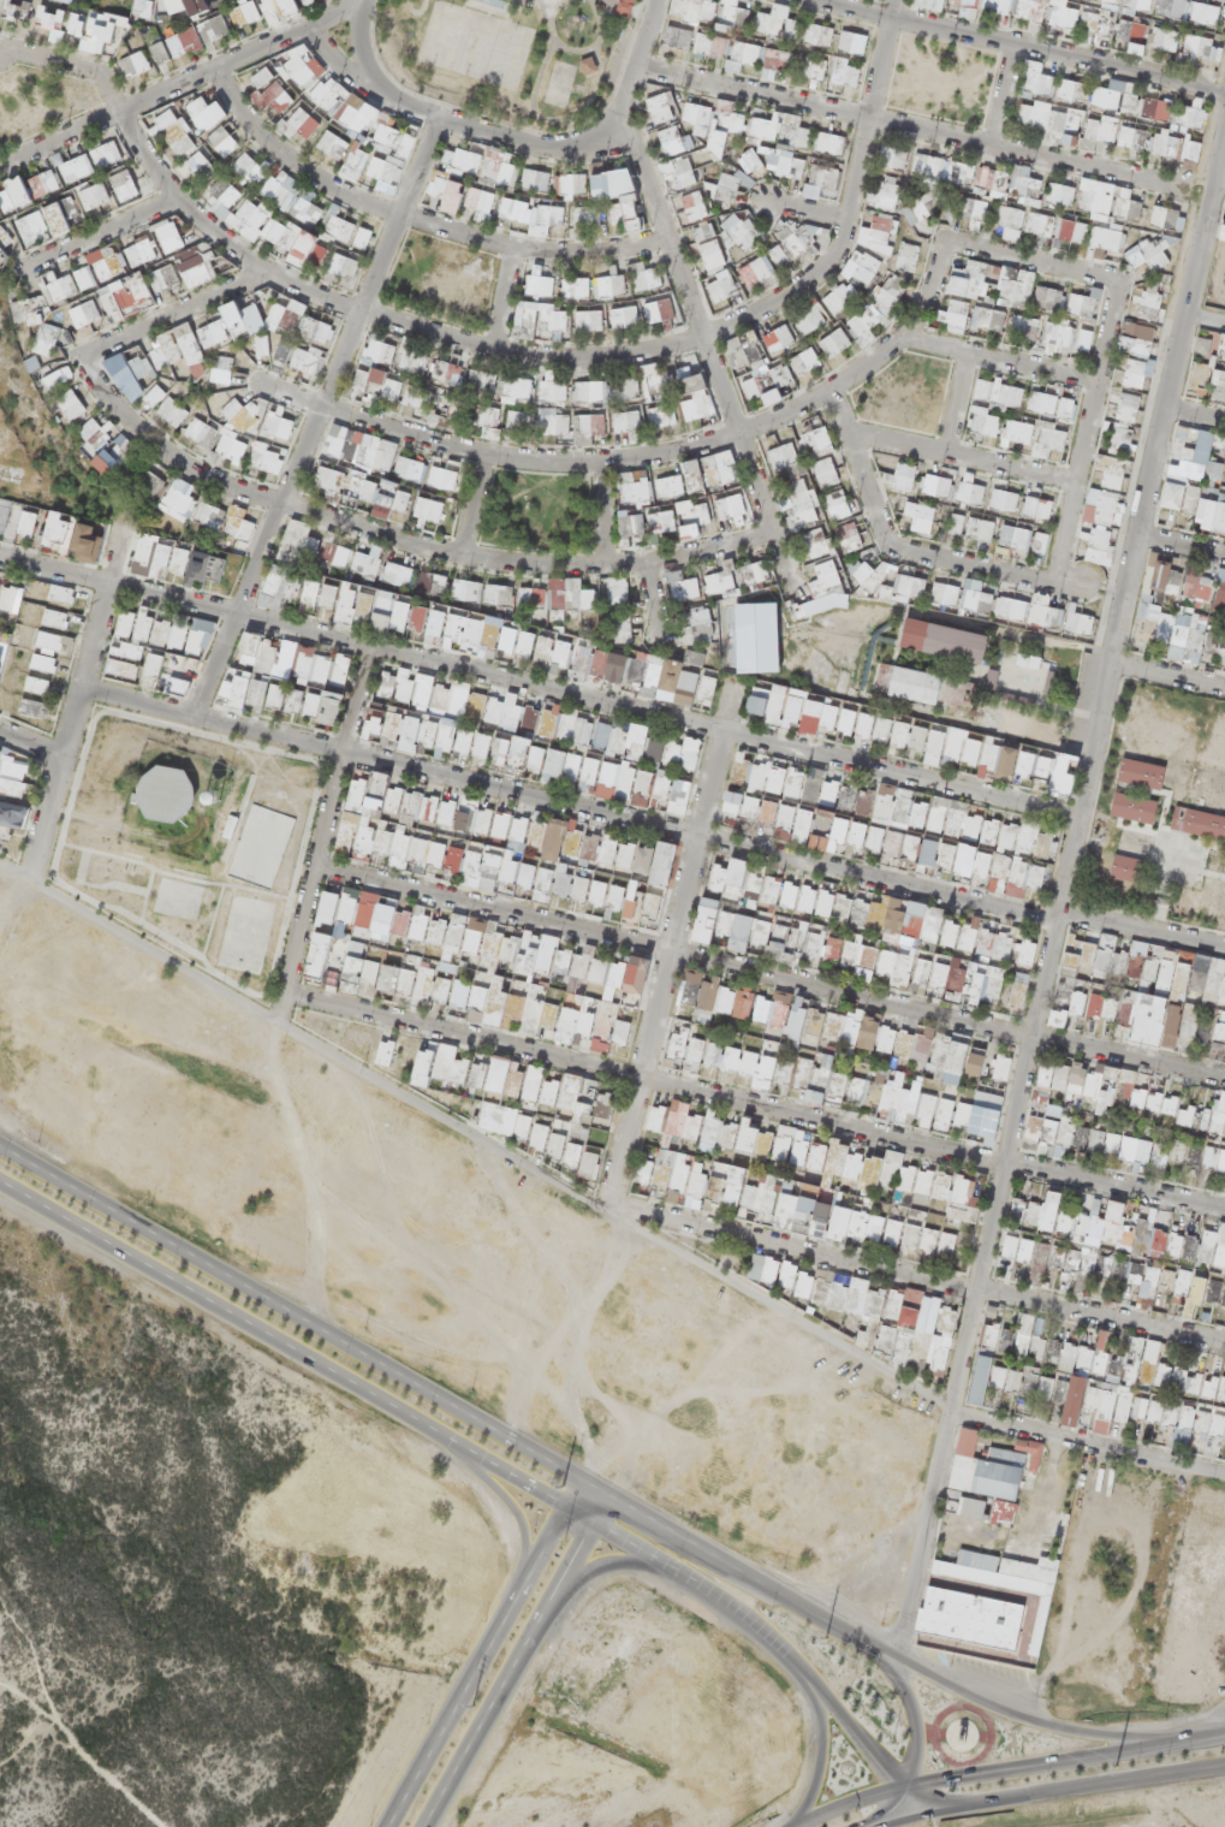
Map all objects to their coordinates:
road: (1063, 1757)
road: (1052, 1791)

